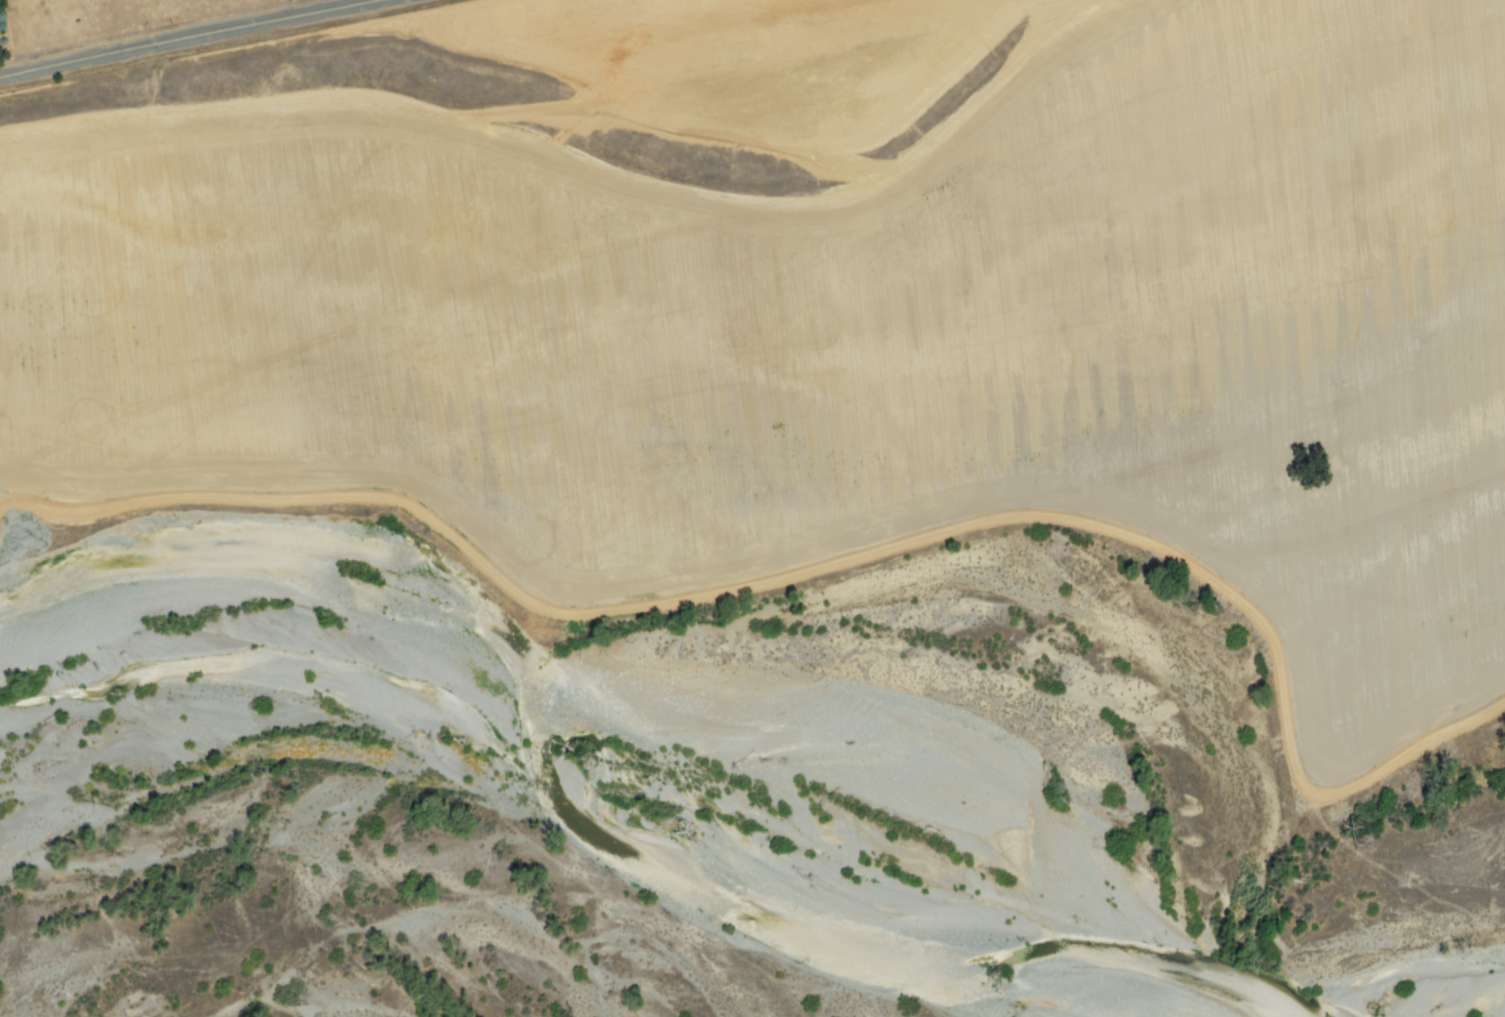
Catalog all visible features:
road: (182, 36)
river: (634, 736)
river: (1495, 1014)

